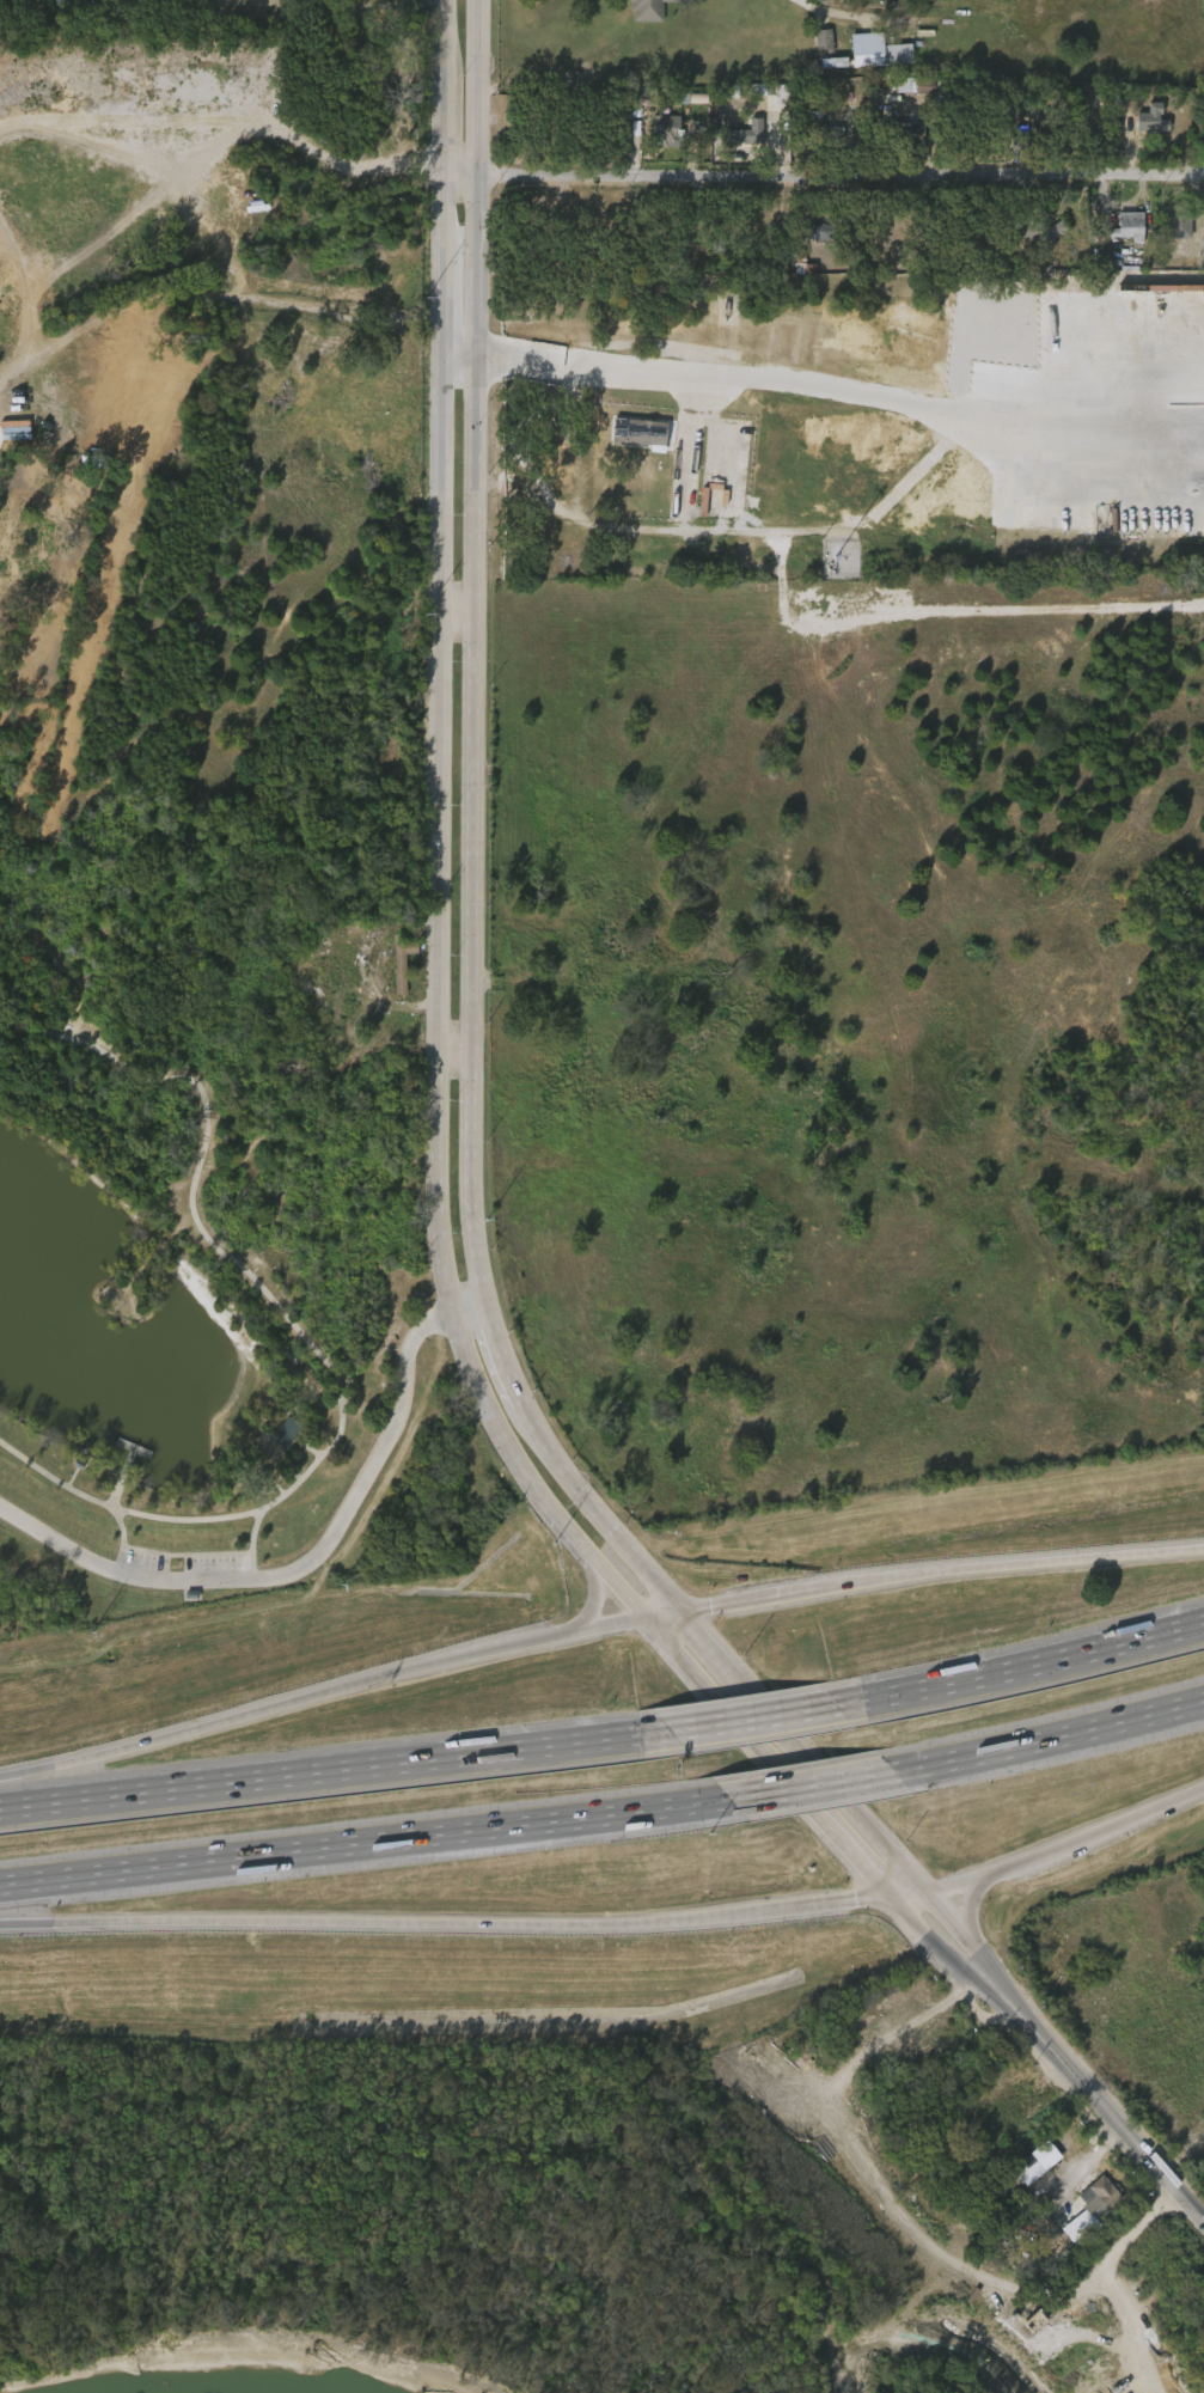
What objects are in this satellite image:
building: (60, 0)
road: (161, 0)
road: (363, 1)
building: (14, 5)
building: (649, 10)
road: (833, 10)
building: (815, 48)
building: (881, 49)
building: (868, 59)
building: (825, 71)
building: (1149, 118)
building: (665, 126)
building: (984, 126)
building: (750, 127)
building: (817, 127)
building: (903, 132)
building: (734, 145)
road: (819, 181)
building: (1126, 226)
building: (1180, 226)
building: (823, 231)
building: (1040, 231)
building: (1169, 233)
building: (1119, 234)
building: (1029, 240)
building: (907, 252)
building: (1202, 257)
road: (208, 294)
road: (454, 354)
road: (637, 373)
building: (630, 439)
building: (653, 463)
building: (638, 495)
road: (453, 613)
road: (473, 649)
building: (402, 960)
building: (393, 971)
road: (434, 1024)
road: (456, 1051)
road: (472, 1302)
road: (507, 1350)
building: (279, 1440)
road: (600, 1507)
road: (295, 1568)
road: (940, 1570)
road: (594, 1598)
road: (661, 1614)
road: (1021, 1666)
road: (728, 1668)
road: (322, 1691)
road: (750, 1719)
road: (1050, 1738)
road: (330, 1770)
road: (815, 1784)
road: (850, 1807)
road: (367, 1842)
road: (1065, 1846)
road: (904, 1893)
road: (967, 1905)
road: (445, 1923)
road: (964, 1939)
road: (940, 1949)
road: (1101, 2105)
building: (1027, 2169)
building: (1104, 2190)
building: (1084, 2214)
road: (1126, 2236)

